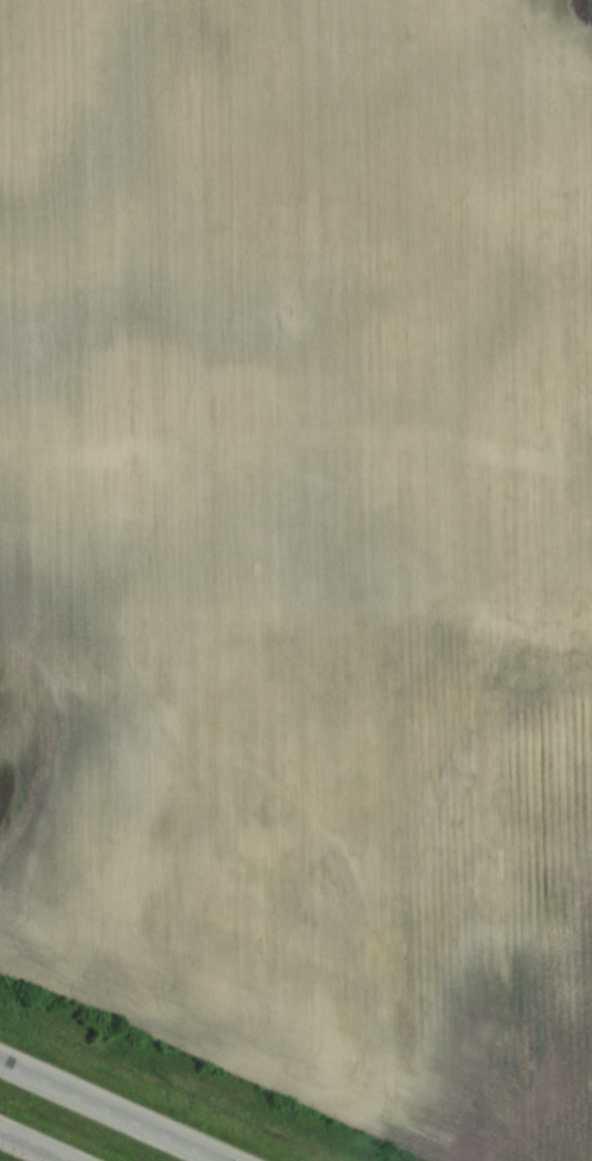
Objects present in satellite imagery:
road: (113, 1110)
road: (39, 1143)

